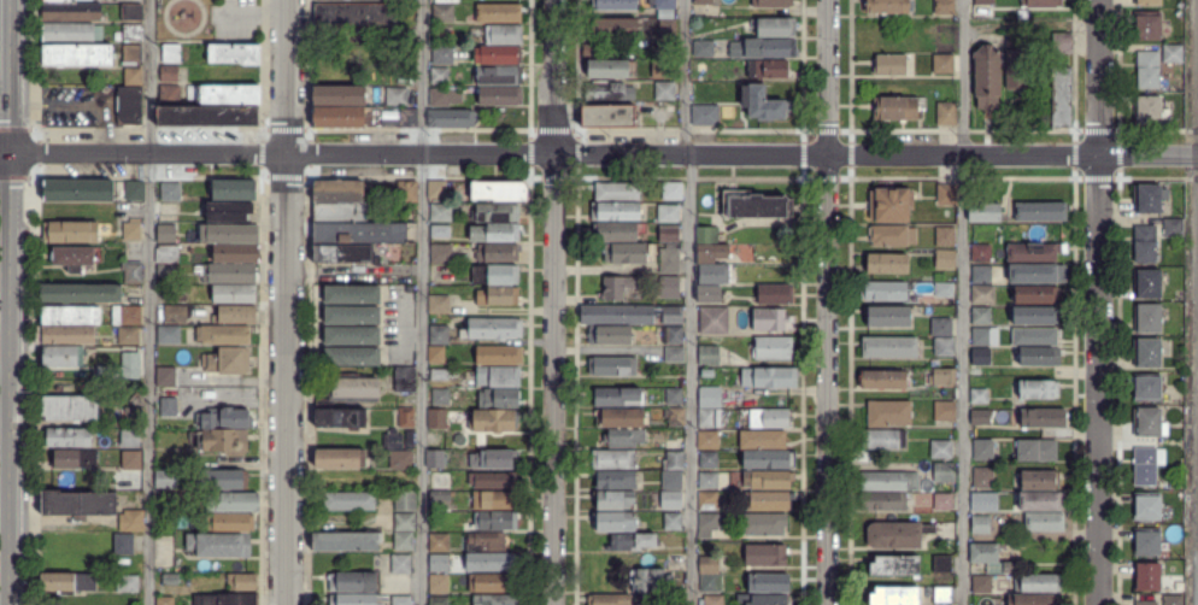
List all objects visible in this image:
building: (58, 0)
building: (84, 0)
building: (703, 1)
building: (982, 1)
building: (770, 2)
building: (1040, 2)
building: (1146, 2)
building: (612, 4)
building: (664, 4)
building: (888, 5)
building: (944, 6)
building: (727, 8)
building: (70, 11)
building: (130, 11)
building: (441, 11)
building: (353, 13)
building: (497, 13)
building: (610, 27)
building: (774, 27)
building: (665, 28)
building: (1146, 28)
building: (70, 31)
building: (131, 31)
building: (441, 31)
building: (503, 34)
building: (738, 34)
building: (1061, 40)
building: (703, 48)
building: (762, 48)
building: (591, 49)
building: (170, 53)
building: (234, 53)
building: (1171, 53)
building: (76, 54)
building: (131, 54)
building: (440, 54)
building: (495, 54)
building: (1016, 60)
building: (942, 63)
building: (701, 64)
building: (888, 65)
building: (606, 69)
building: (664, 69)
building: (768, 69)
building: (1147, 70)
building: (169, 74)
building: (439, 75)
building: (498, 75)
building: (131, 76)
building: (987, 77)
building: (664, 90)
building: (607, 92)
building: (337, 94)
building: (169, 95)
building: (222, 95)
building: (499, 95)
building: (395, 96)
building: (441, 98)
building: (1061, 98)
parking lot: (74, 102)
building: (763, 104)
building: (128, 105)
building: (898, 107)
building: (1147, 110)
building: (946, 113)
building: (705, 114)
building: (206, 116)
building: (606, 116)
building: (337, 117)
building: (450, 118)
building: (401, 119)
road: (548, 152)
road: (1147, 153)
building: (78, 189)
building: (172, 189)
building: (436, 189)
building: (670, 189)
building: (135, 190)
building: (234, 190)
building: (337, 190)
building: (407, 190)
building: (500, 190)
building: (616, 190)
building: (947, 194)
building: (1149, 198)
building: (889, 204)
building: (754, 205)
building: (341, 211)
building: (440, 211)
building: (497, 211)
building: (615, 211)
building: (1040, 211)
building: (228, 212)
building: (669, 212)
building: (986, 212)
building: (1173, 227)
building: (133, 229)
building: (440, 230)
building: (495, 231)
building: (616, 231)
building: (71, 233)
building: (229, 233)
building: (364, 233)
building: (669, 233)
building: (165, 234)
building: (707, 234)
building: (891, 235)
building: (945, 236)
building: (1144, 243)
building: (497, 252)
building: (711, 252)
building: (981, 252)
building: (168, 253)
building: (235, 253)
building: (441, 253)
building: (629, 253)
building: (1032, 253)
building: (345, 254)
building: (74, 258)
building: (669, 259)
building: (945, 259)
building: (886, 263)
building: (133, 271)
building: (166, 271)
building: (440, 271)
building: (229, 272)
building: (1035, 272)
building: (712, 274)
building: (494, 275)
building: (981, 275)
building: (1146, 283)
building: (669, 286)
building: (616, 287)
building: (944, 289)
building: (883, 290)
building: (81, 293)
building: (981, 293)
building: (234, 294)
building: (709, 294)
building: (775, 294)
building: (1035, 294)
building: (356, 295)
building: (498, 295)
building: (175, 296)
road: (10, 302)
road: (148, 302)
road: (287, 302)
road: (419, 302)
road: (554, 302)
road: (688, 302)
road: (828, 302)
road: (964, 302)
road: (1098, 302)
building: (439, 305)
building: (176, 313)
building: (70, 315)
building: (131, 315)
building: (235, 315)
building: (616, 315)
building: (674, 315)
building: (981, 315)
building: (1034, 315)
building: (356, 316)
building: (888, 316)
building: (715, 319)
building: (770, 319)
building: (1147, 319)
parking lot: (399, 321)
building: (941, 327)
building: (492, 328)
building: (66, 334)
building: (673, 334)
building: (129, 335)
building: (170, 335)
building: (223, 335)
building: (439, 335)
building: (609, 335)
building: (356, 336)
building: (981, 336)
building: (1034, 336)
building: (888, 346)
building: (944, 346)
building: (771, 347)
building: (435, 353)
building: (674, 353)
building: (1147, 353)
building: (498, 354)
building: (63, 356)
building: (707, 356)
building: (981, 356)
building: (1040, 356)
building: (354, 357)
building: (229, 362)
building: (130, 363)
building: (934, 363)
building: (611, 365)
building: (707, 372)
building: (439, 374)
building: (498, 376)
building: (942, 376)
building: (165, 377)
building: (769, 377)
building: (405, 378)
building: (882, 378)
building: (356, 388)
building: (1039, 388)
building: (1147, 388)
parking lot: (218, 395)
building: (674, 395)
building: (977, 395)
building: (440, 397)
building: (616, 397)
building: (709, 397)
building: (499, 398)
building: (169, 403)
building: (69, 407)
building: (942, 410)
building: (887, 413)
building: (133, 416)
building: (406, 417)
building: (619, 417)
building: (674, 417)
building: (707, 417)
building: (979, 417)
building: (340, 418)
building: (437, 418)
building: (768, 418)
building: (1045, 418)
building: (224, 419)
building: (492, 419)
building: (1149, 423)
building: (69, 436)
building: (130, 437)
building: (624, 437)
building: (881, 437)
building: (395, 439)
building: (675, 439)
building: (709, 439)
building: (224, 440)
building: (762, 440)
building: (941, 448)
building: (983, 448)
building: (1036, 450)
building: (75, 458)
building: (340, 458)
building: (613, 458)
building: (131, 459)
building: (400, 459)
building: (436, 459)
building: (493, 459)
building: (709, 459)
building: (769, 459)
building: (674, 460)
building: (1147, 465)
building: (944, 471)
building: (983, 477)
building: (101, 478)
building: (168, 480)
building: (223, 480)
building: (494, 480)
building: (613, 480)
building: (768, 480)
building: (342, 481)
building: (405, 481)
building: (441, 481)
building: (673, 481)
building: (709, 481)
building: (889, 481)
building: (1039, 481)
building: (1176, 484)
building: (404, 500)
building: (441, 500)
building: (495, 500)
building: (613, 500)
building: (671, 500)
building: (709, 500)
building: (769, 500)
building: (983, 500)
building: (352, 501)
building: (883, 501)
building: (942, 501)
building: (1041, 501)
building: (233, 503)
building: (77, 505)
building: (1147, 506)
building: (131, 521)
building: (497, 521)
building: (711, 521)
building: (404, 522)
building: (615, 522)
building: (673, 522)
building: (1045, 522)
building: (229, 523)
building: (981, 524)
building: (764, 525)
building: (897, 535)
building: (69, 541)
building: (346, 541)
building: (404, 541)
building: (485, 541)
building: (632, 542)
building: (1147, 542)
building: (124, 544)
building: (440, 544)
building: (221, 545)
building: (983, 553)
building: (765, 554)
building: (491, 562)
building: (676, 562)
building: (439, 563)
building: (400, 564)
building: (710, 564)
building: (942, 564)
building: (895, 566)
building: (1147, 576)
building: (171, 578)
building: (242, 581)
building: (647, 581)
building: (69, 582)
building: (354, 582)
building: (711, 582)
building: (128, 583)
building: (440, 583)
building: (492, 583)
building: (770, 583)
building: (1040, 583)
building: (982, 585)
building: (681, 587)
building: (942, 594)
building: (895, 595)
building: (165, 599)
building: (223, 599)
building: (357, 599)
building: (495, 599)
building: (609, 599)
building: (763, 599)
building: (1174, 599)
building: (403, 600)
building: (440, 600)
building: (715, 600)
building: (1034, 600)
building: (1146, 603)

